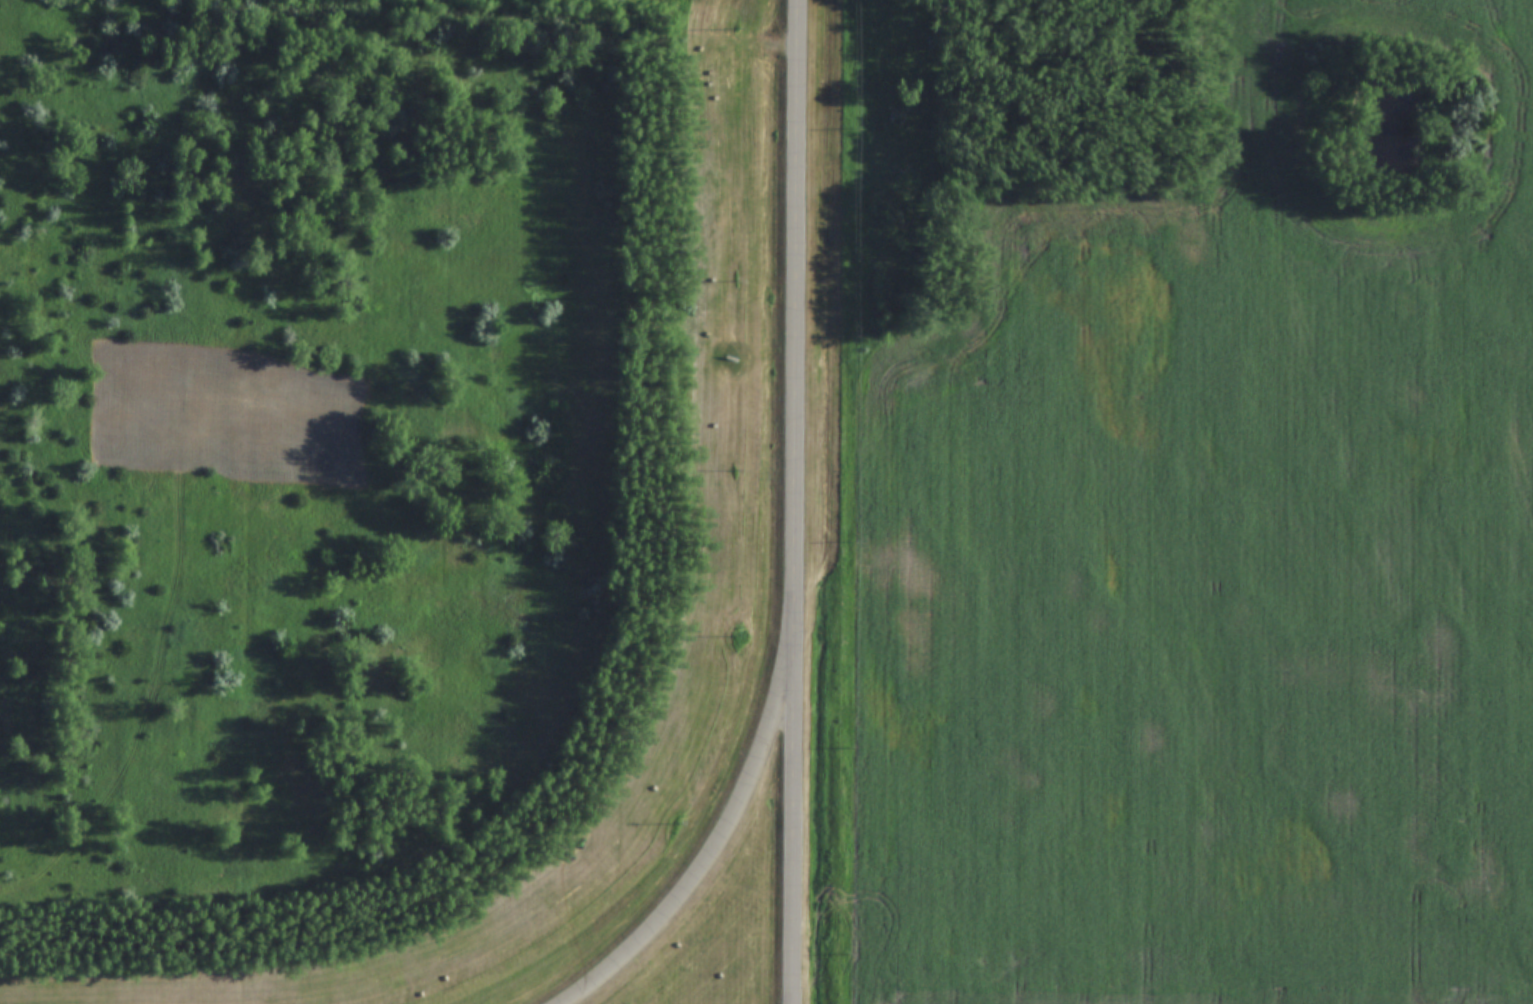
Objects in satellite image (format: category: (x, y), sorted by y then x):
road: (737, 171)
road: (799, 501)
road: (716, 846)

